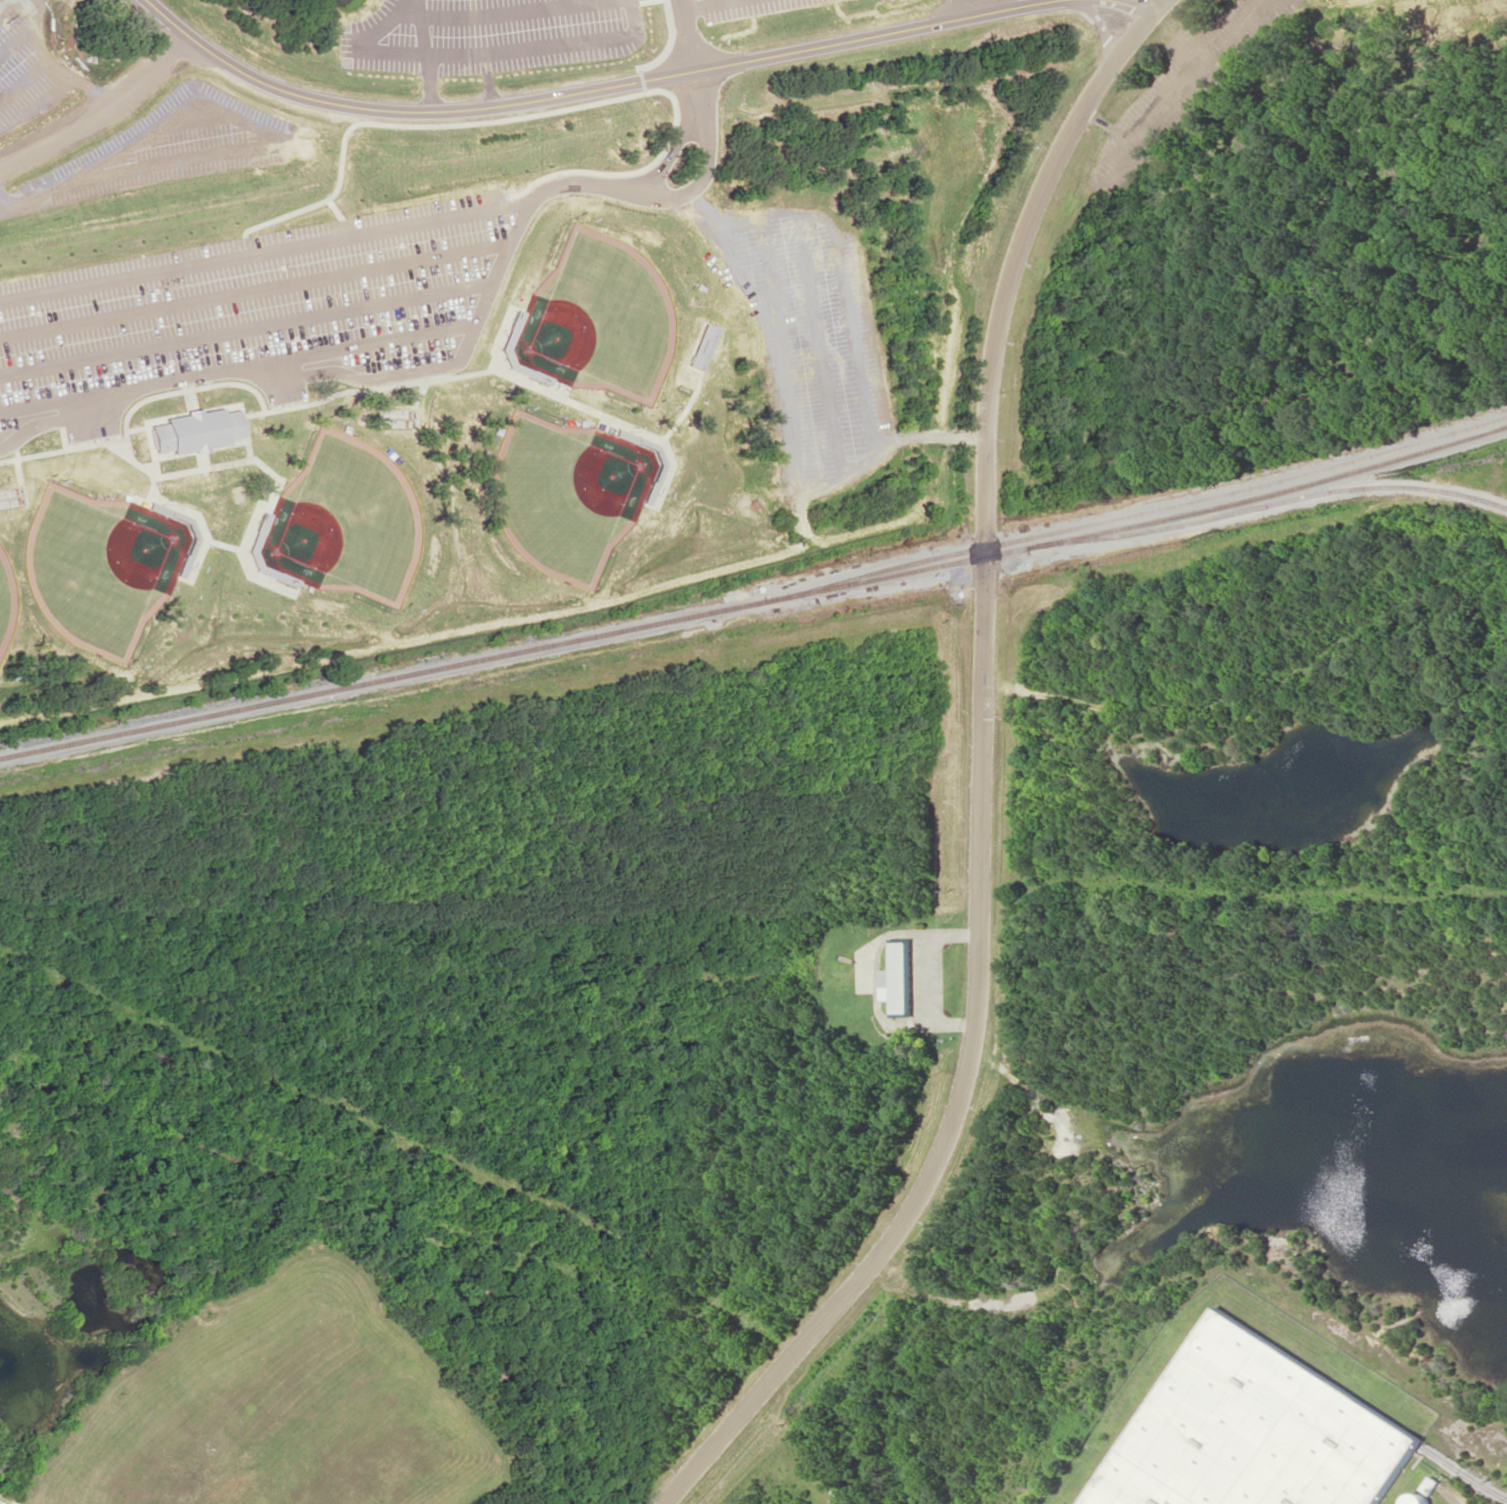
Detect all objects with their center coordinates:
road: (1135, 6)
parking lot: (740, 8)
power tower: (5, 21)
parking lot: (486, 34)
parking lot: (27, 66)
road: (593, 87)
parking lot: (1181, 87)
parking lot: (155, 149)
parking lot: (253, 313)
park: (597, 317)
building: (701, 346)
parking lot: (814, 346)
building: (195, 430)
park: (566, 493)
railway: (1288, 500)
railway: (1165, 507)
park: (343, 520)
railway: (1152, 522)
park: (98, 566)
park: (6, 598)
railway: (395, 675)
road: (982, 780)
building: (898, 976)
railway: (1367, 1413)
building: (1253, 1432)

